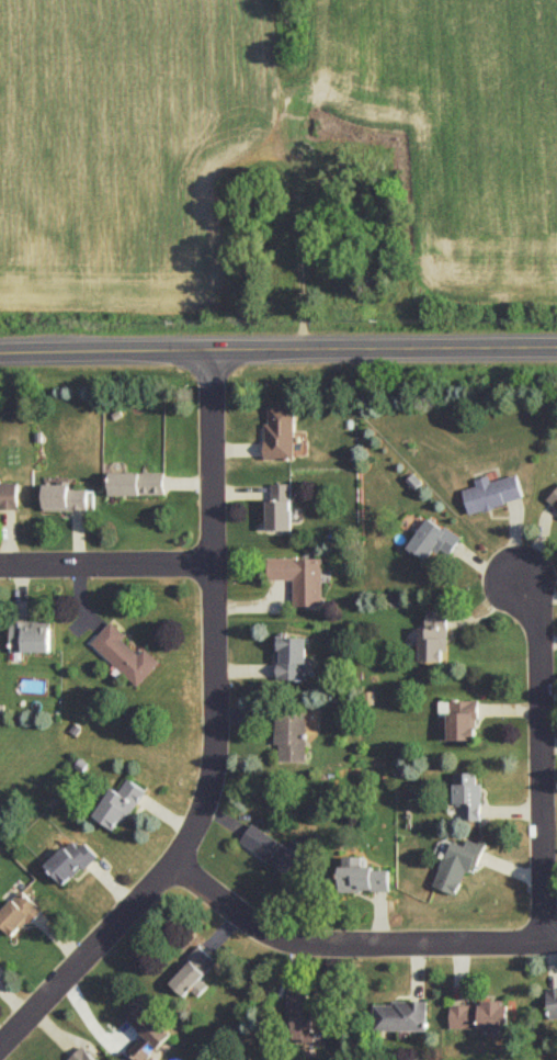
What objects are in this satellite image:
road: (278, 346)
building: (281, 431)
building: (138, 482)
building: (493, 492)
building: (9, 494)
building: (65, 496)
building: (554, 496)
building: (281, 506)
building: (434, 539)
road: (107, 561)
building: (302, 577)
building: (31, 635)
building: (434, 636)
building: (125, 653)
building: (292, 657)
building: (462, 718)
road: (215, 733)
building: (292, 733)
road: (544, 746)
building: (469, 793)
building: (118, 803)
building: (270, 847)
building: (70, 860)
building: (458, 864)
building: (362, 876)
building: (18, 912)
road: (352, 941)
building: (194, 971)
building: (553, 1002)
building: (480, 1014)
building: (401, 1015)
building: (306, 1018)
building: (147, 1033)
building: (83, 1055)

